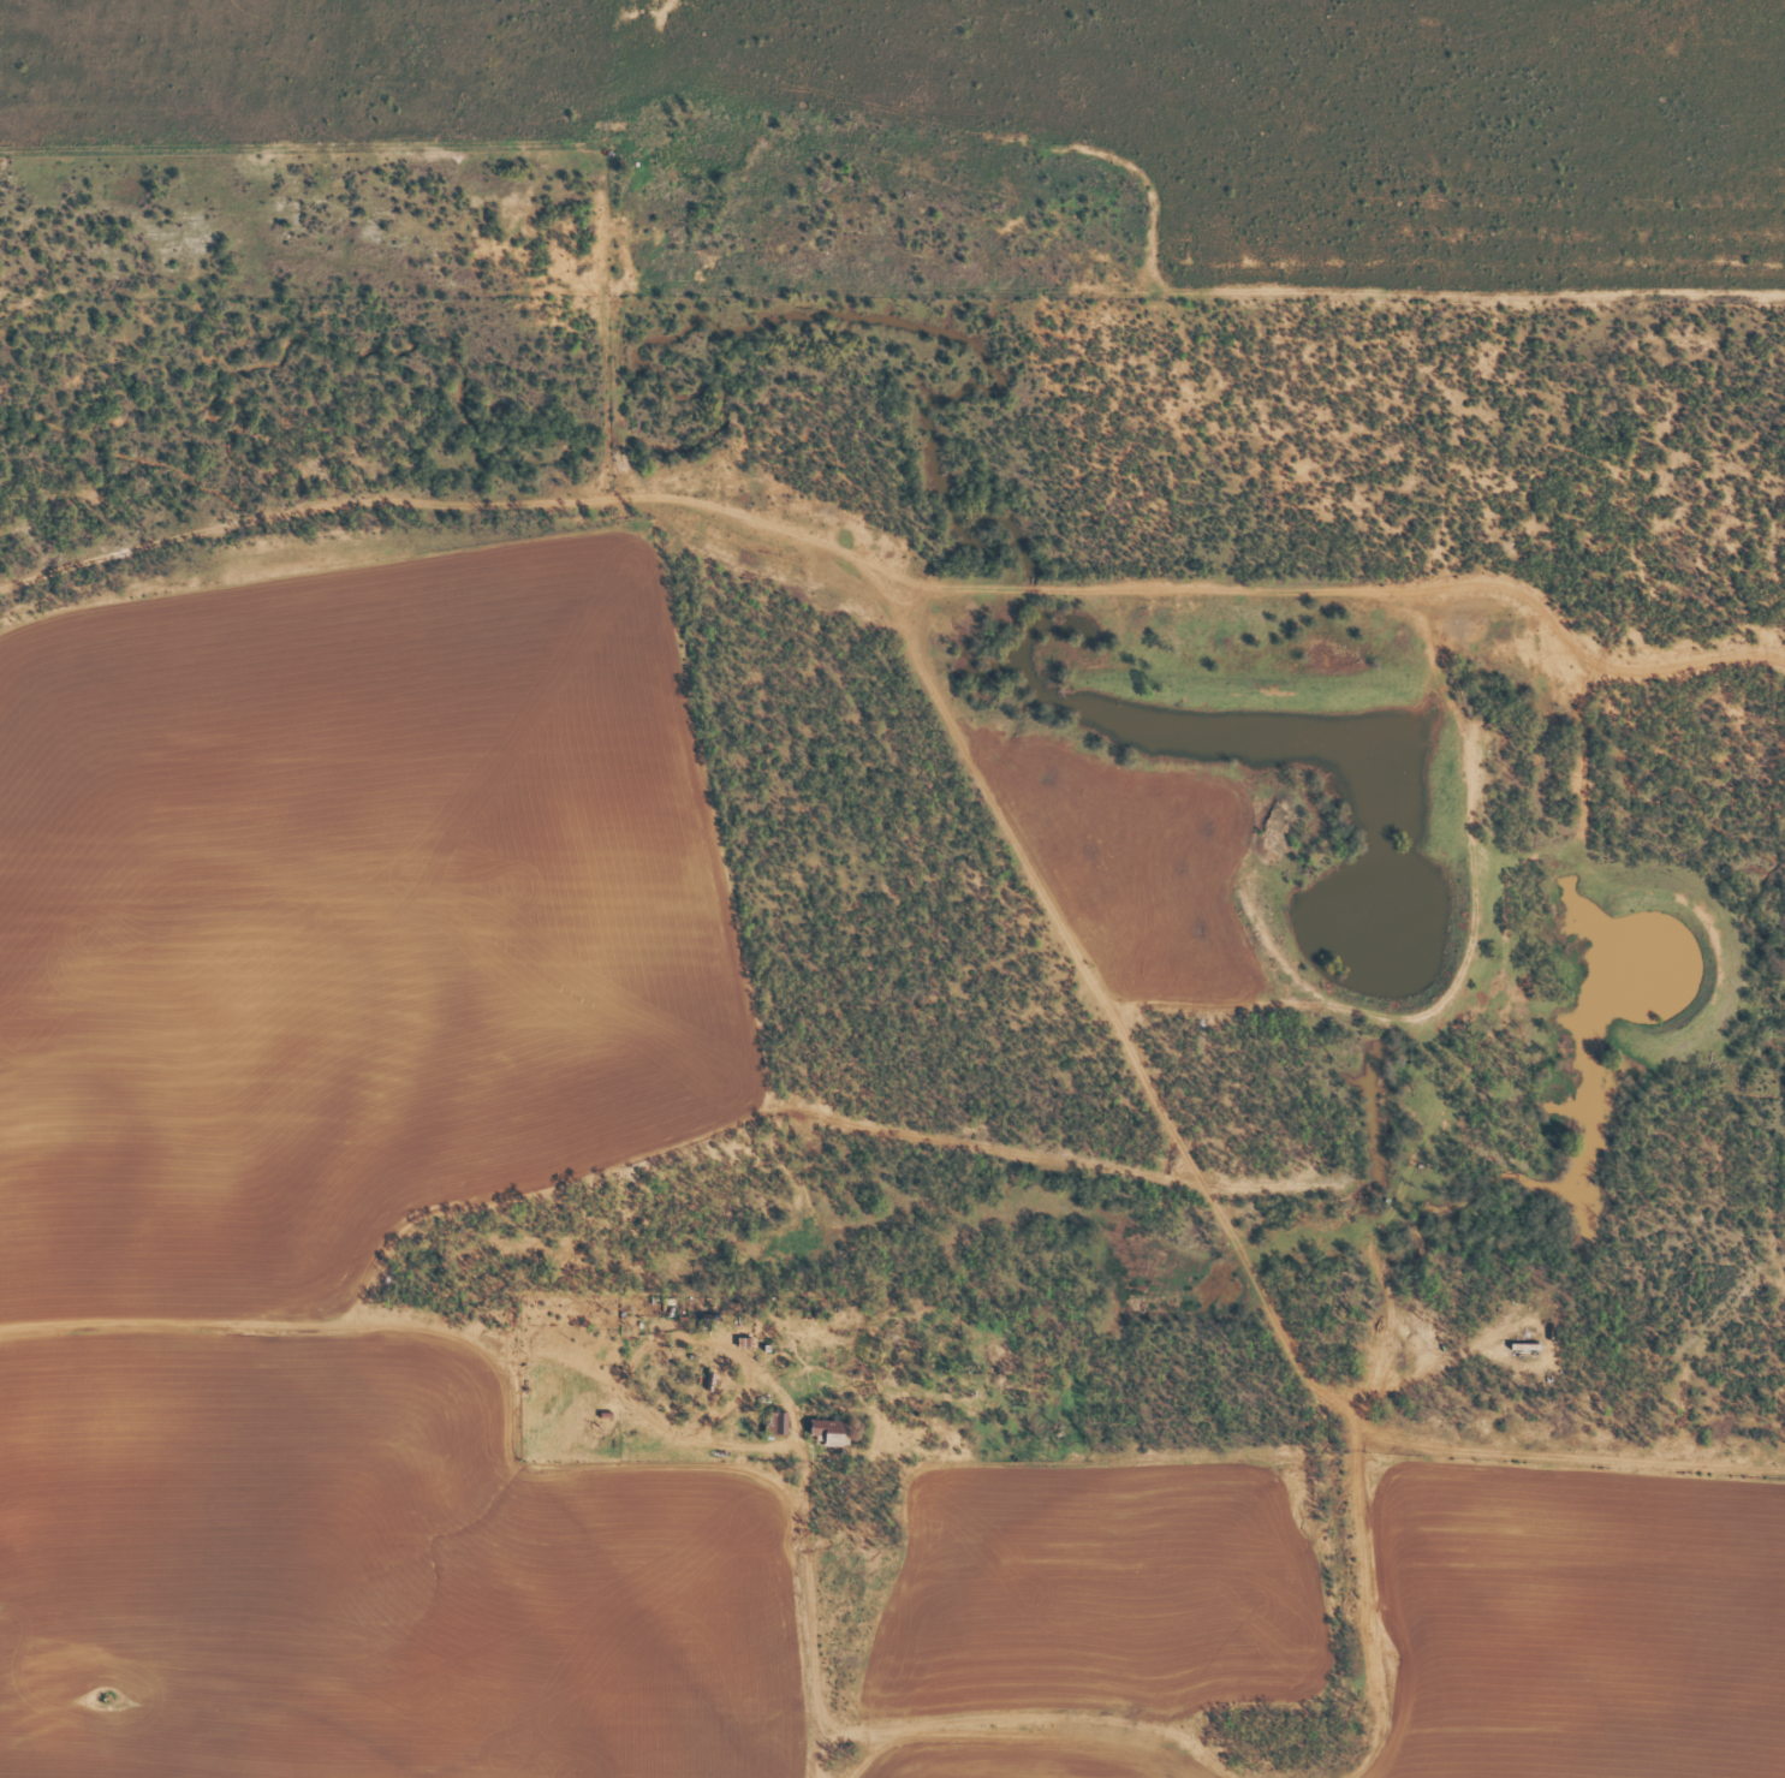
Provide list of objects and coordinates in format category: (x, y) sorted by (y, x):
road: (245, 151)
road: (34, 606)
road: (1196, 1144)
road: (554, 1332)
building: (827, 1432)
road: (315, 1546)

